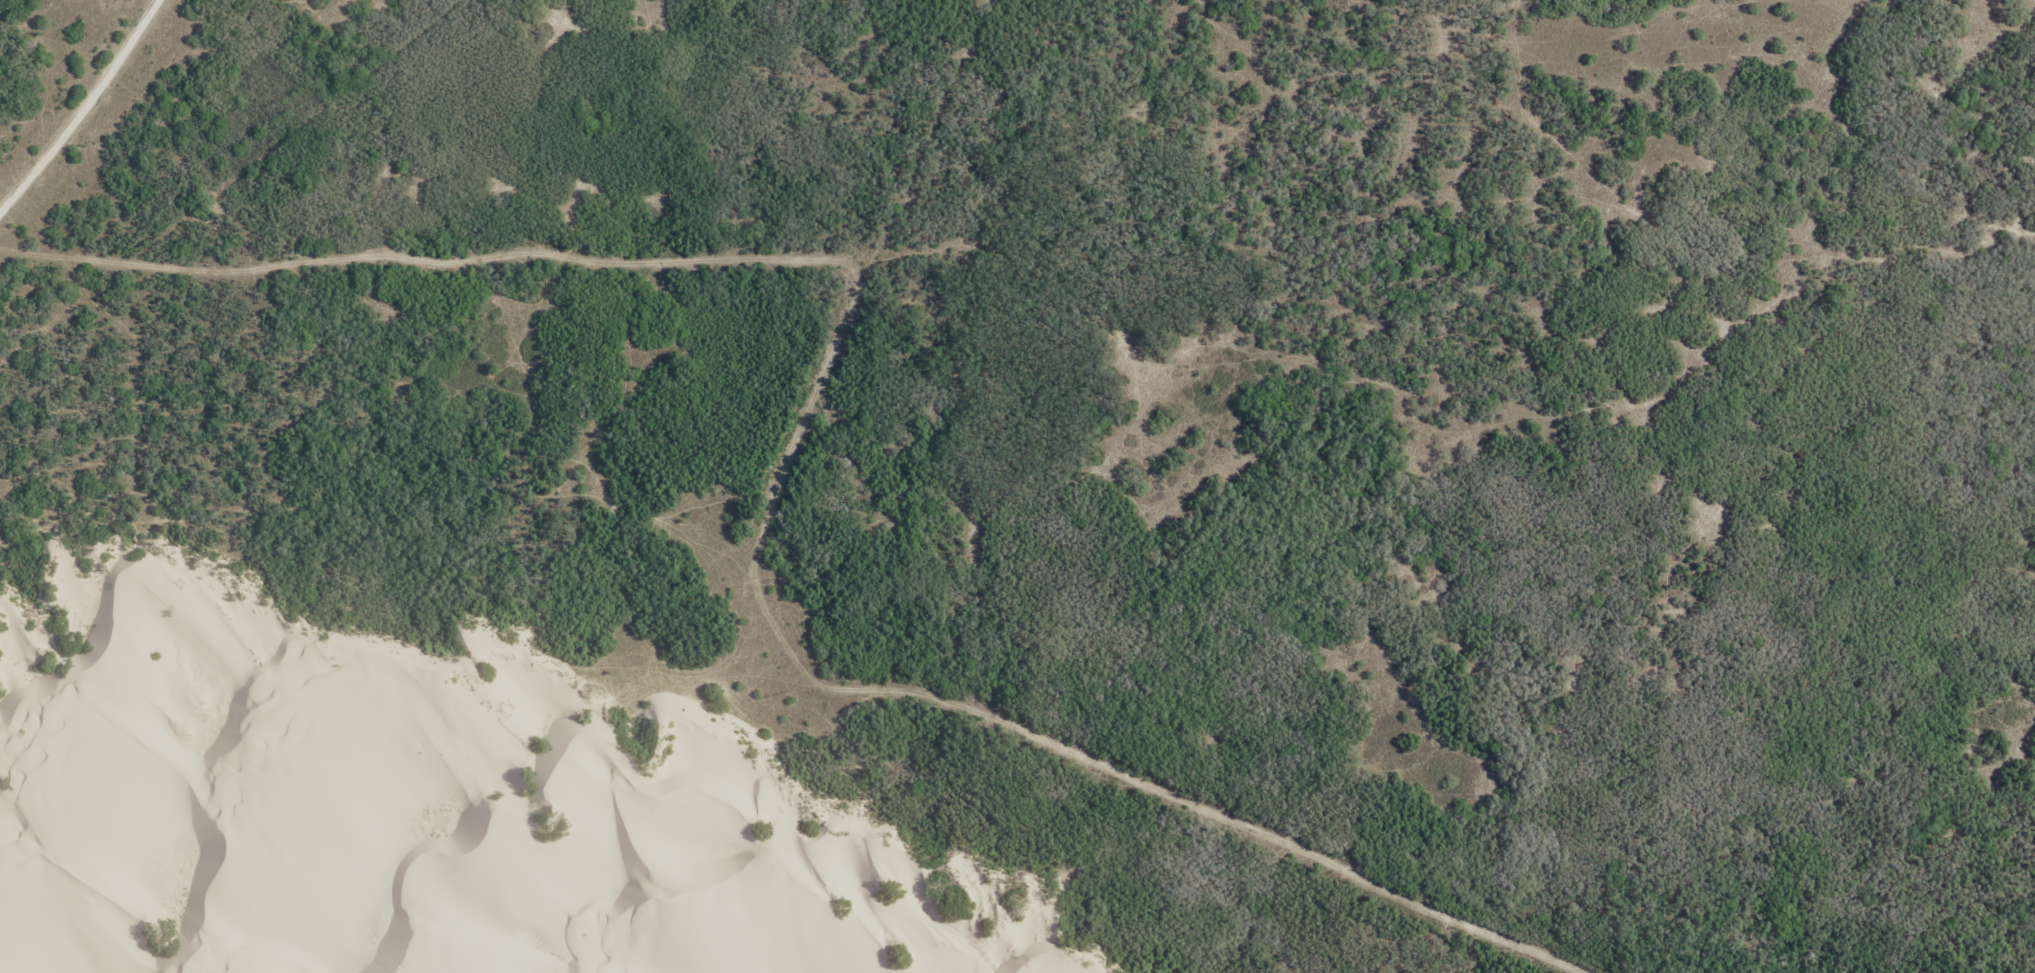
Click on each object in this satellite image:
road: (76, 110)
road: (789, 755)
road: (681, 870)

